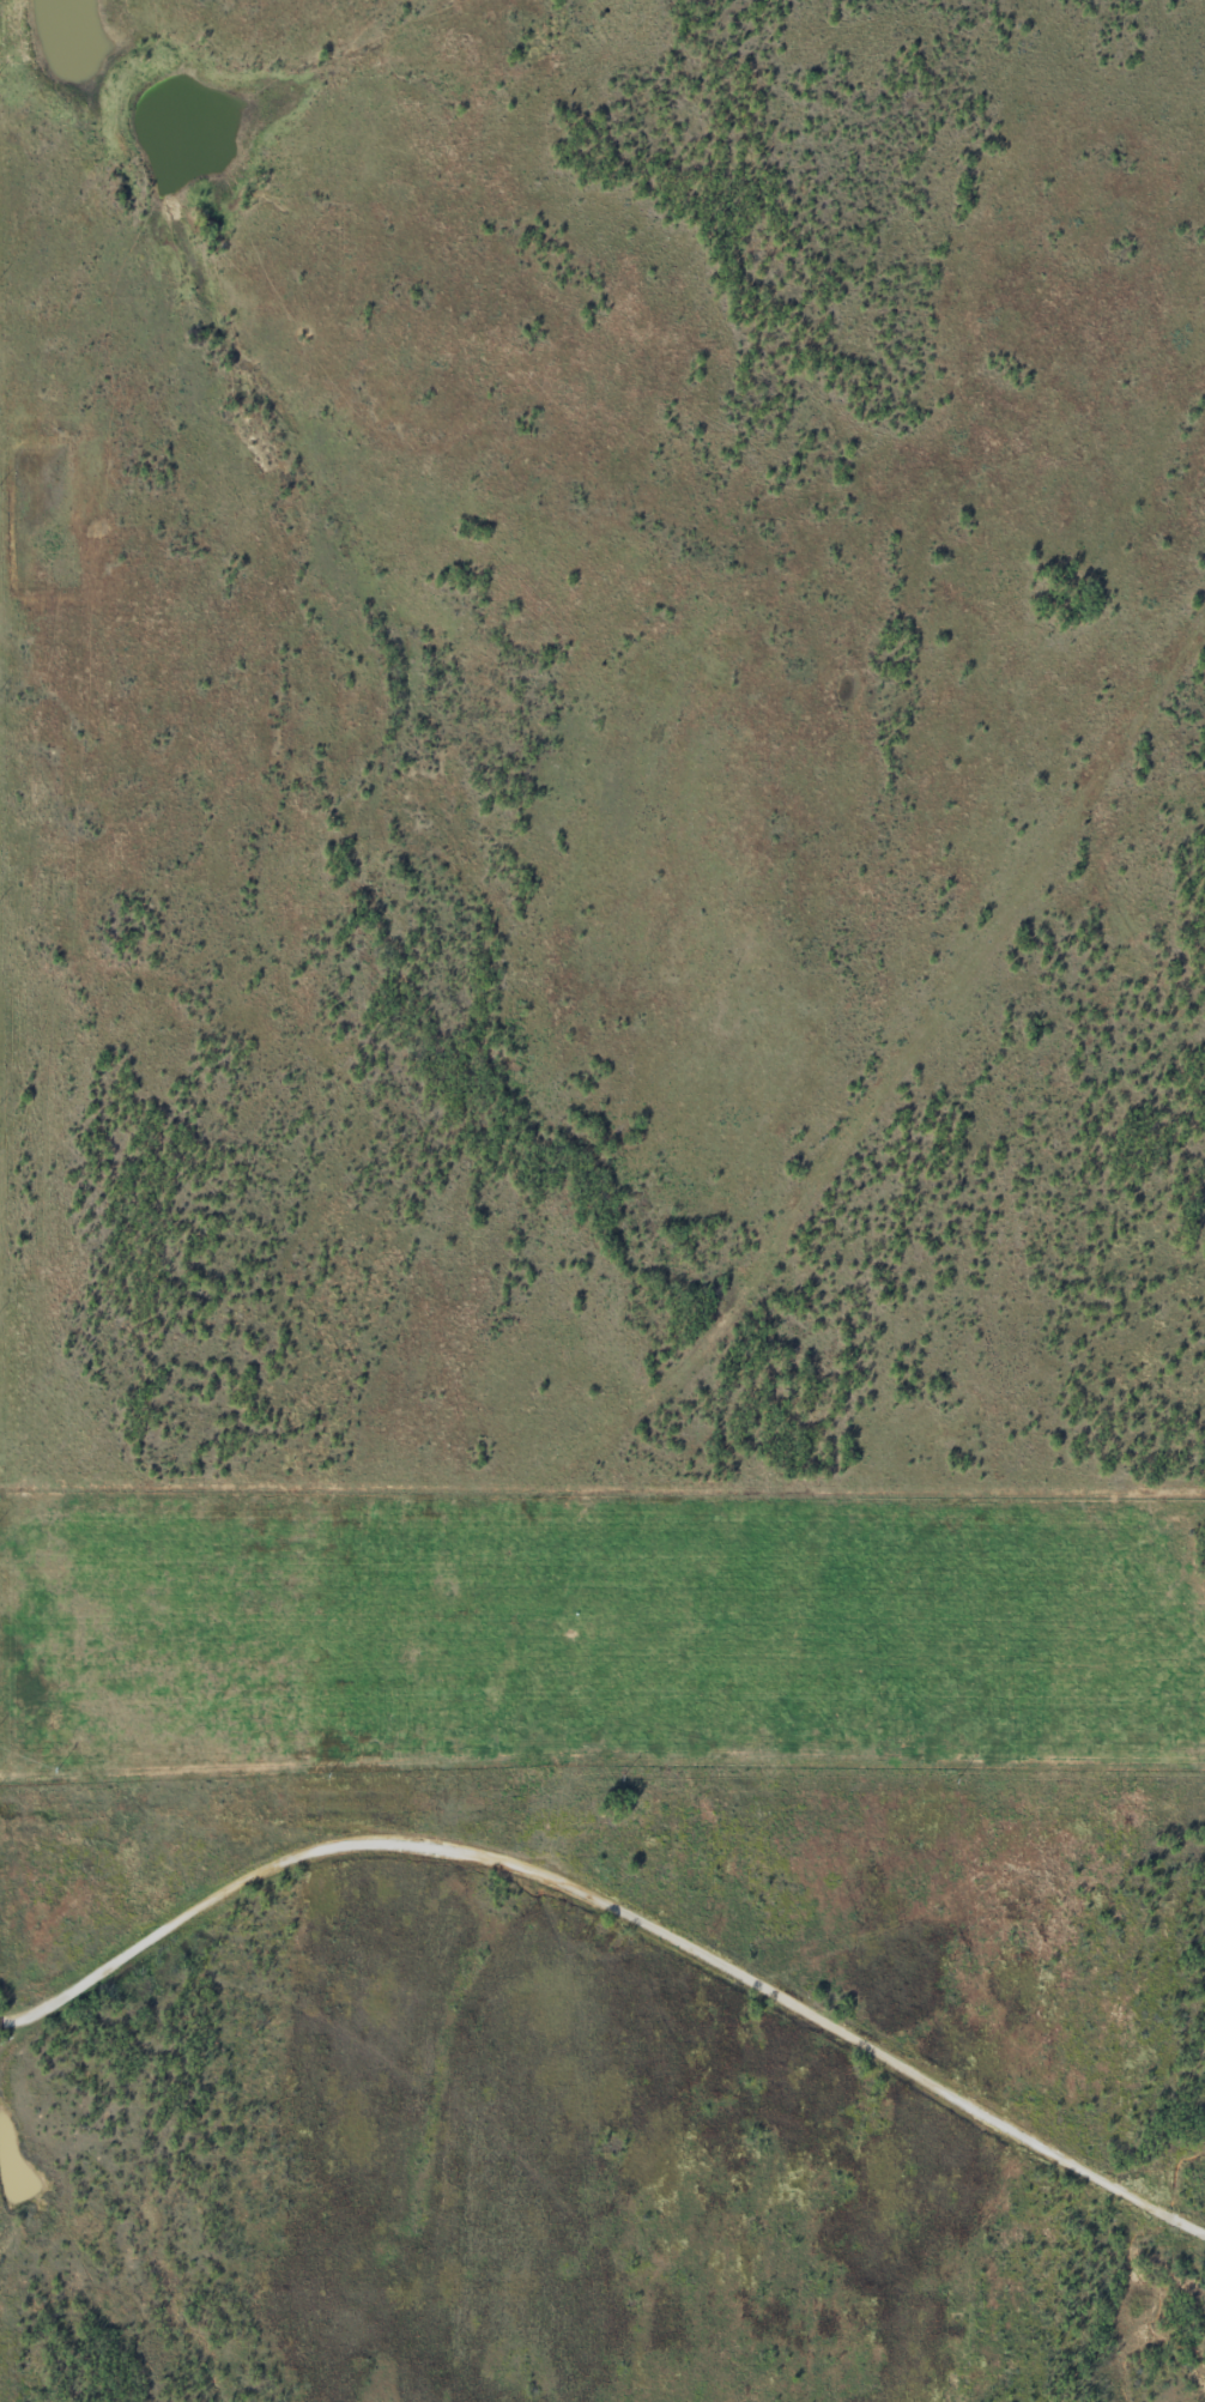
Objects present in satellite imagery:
road: (613, 1966)

